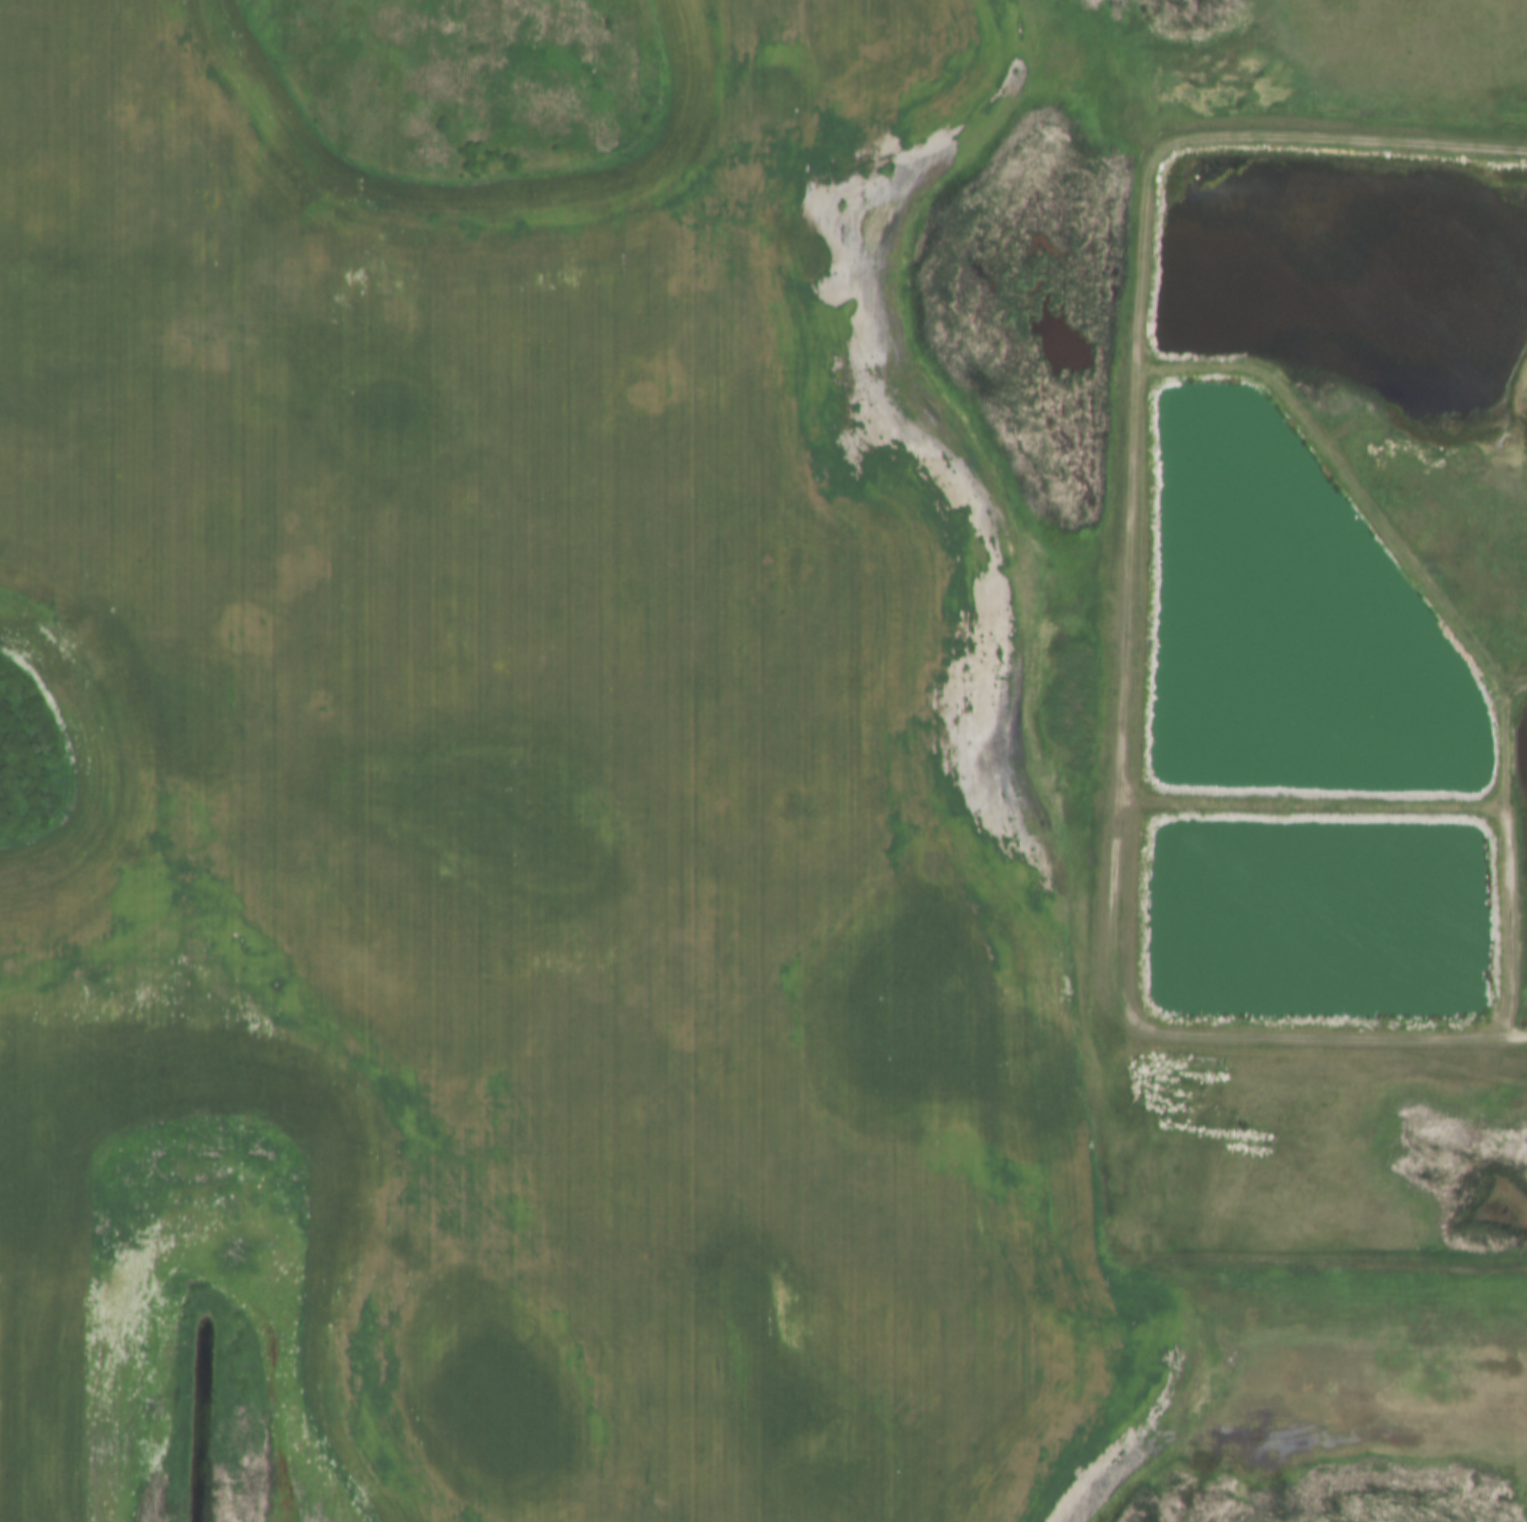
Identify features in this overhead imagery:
road: (1136, 403)

